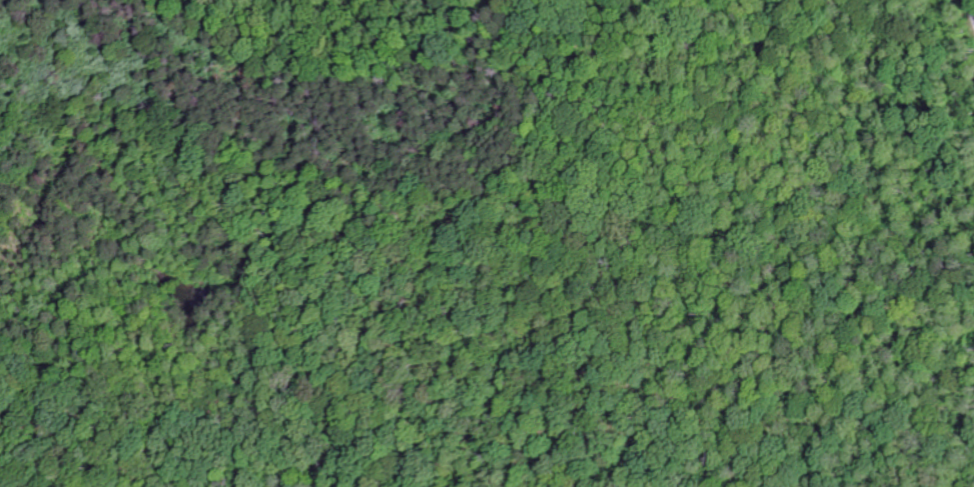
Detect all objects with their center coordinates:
road: (972, 4)

